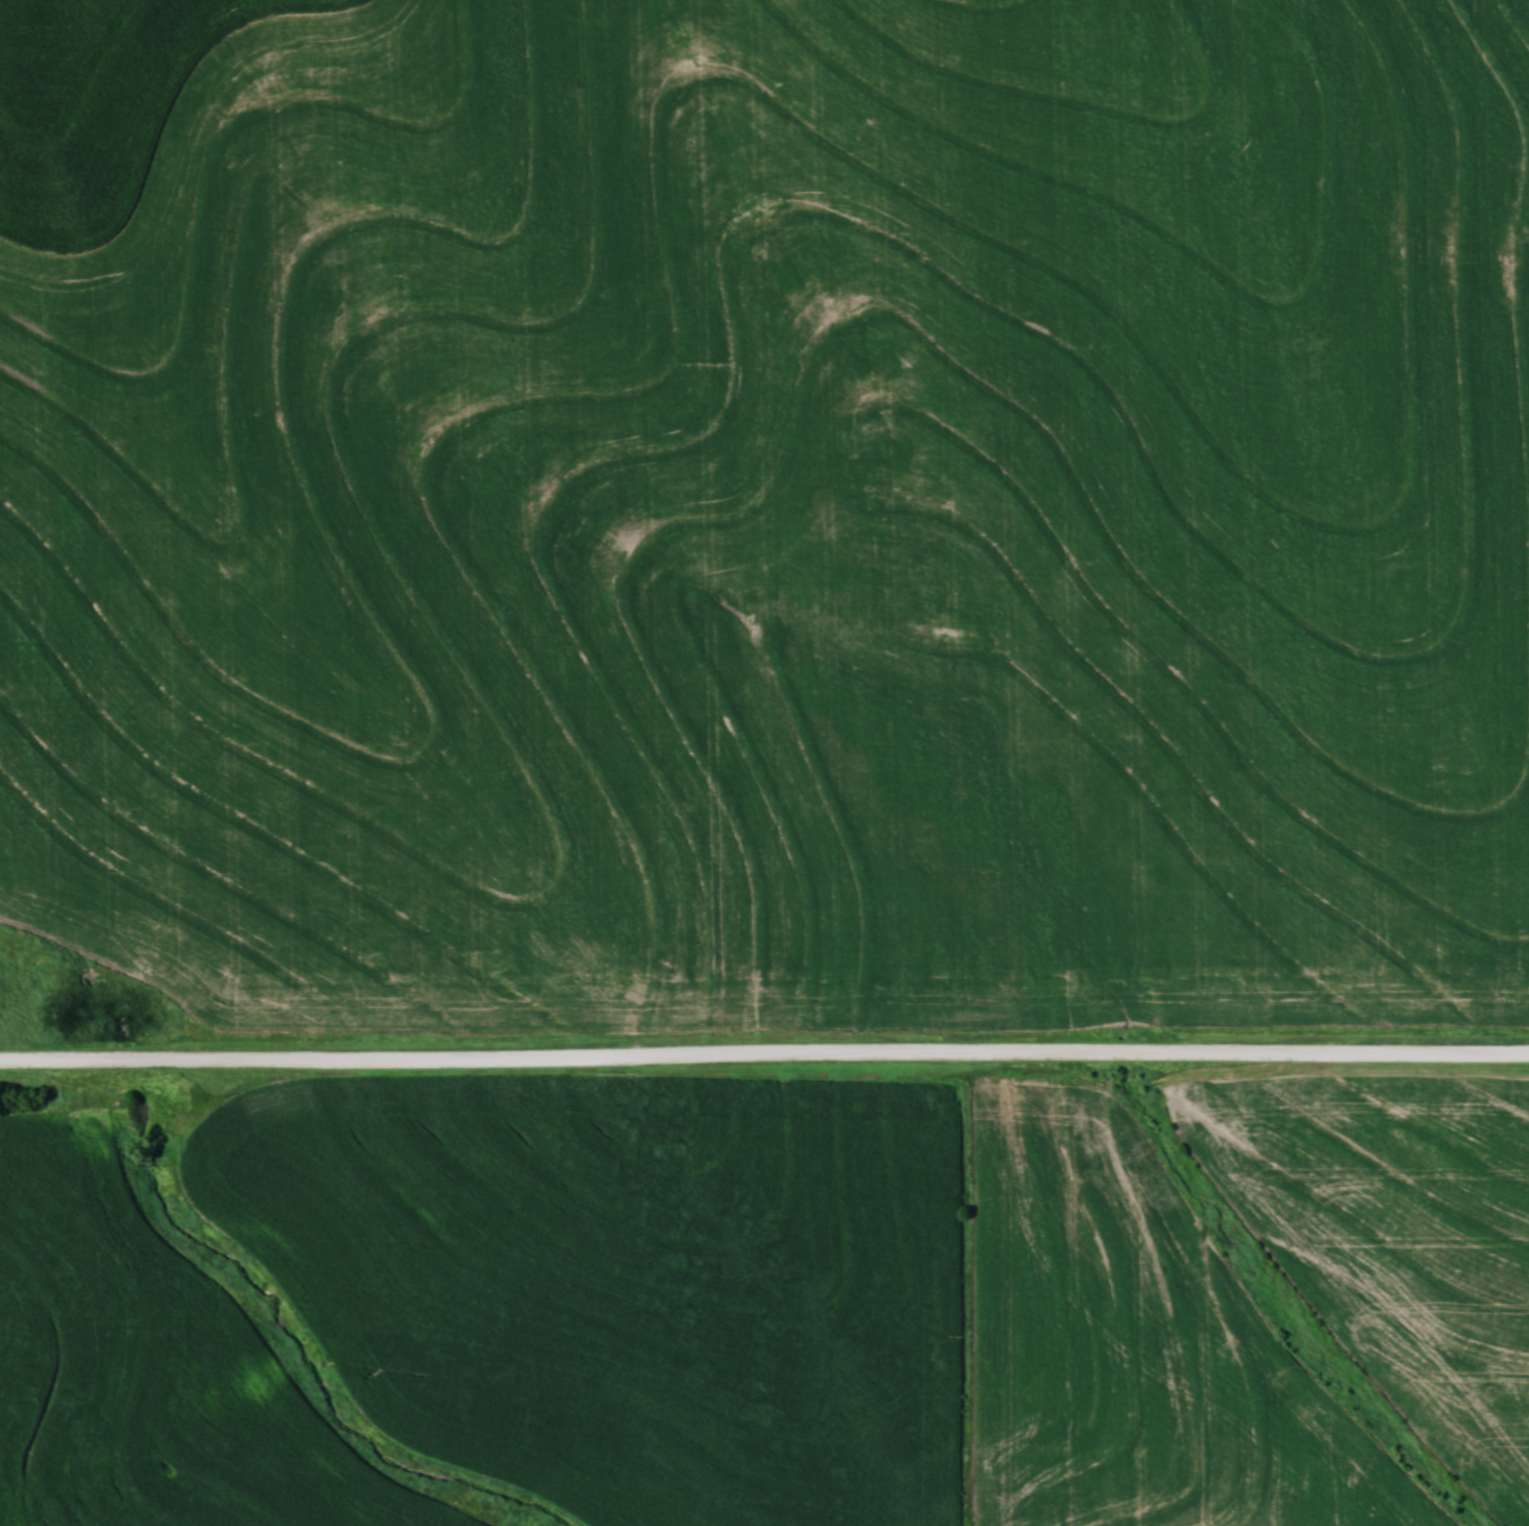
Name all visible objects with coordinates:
road: (764, 1057)

